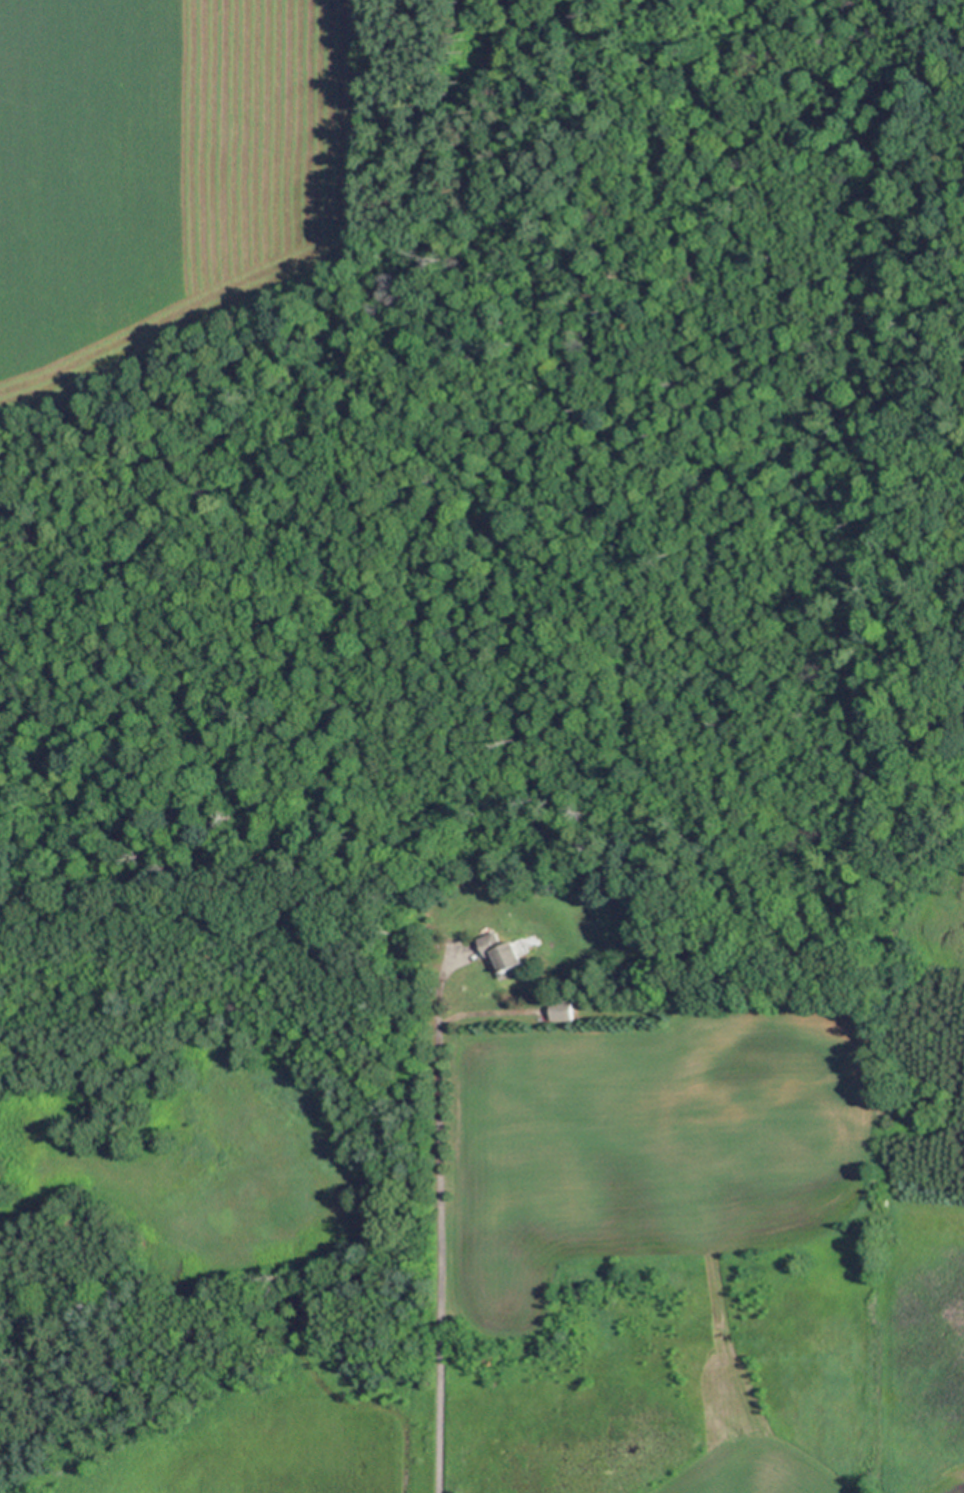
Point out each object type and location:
building: (728, 276)
building: (529, 940)
building: (505, 952)
building: (561, 1009)
building: (107, 1145)
building: (357, 1164)
road: (443, 1213)
building: (79, 1453)

